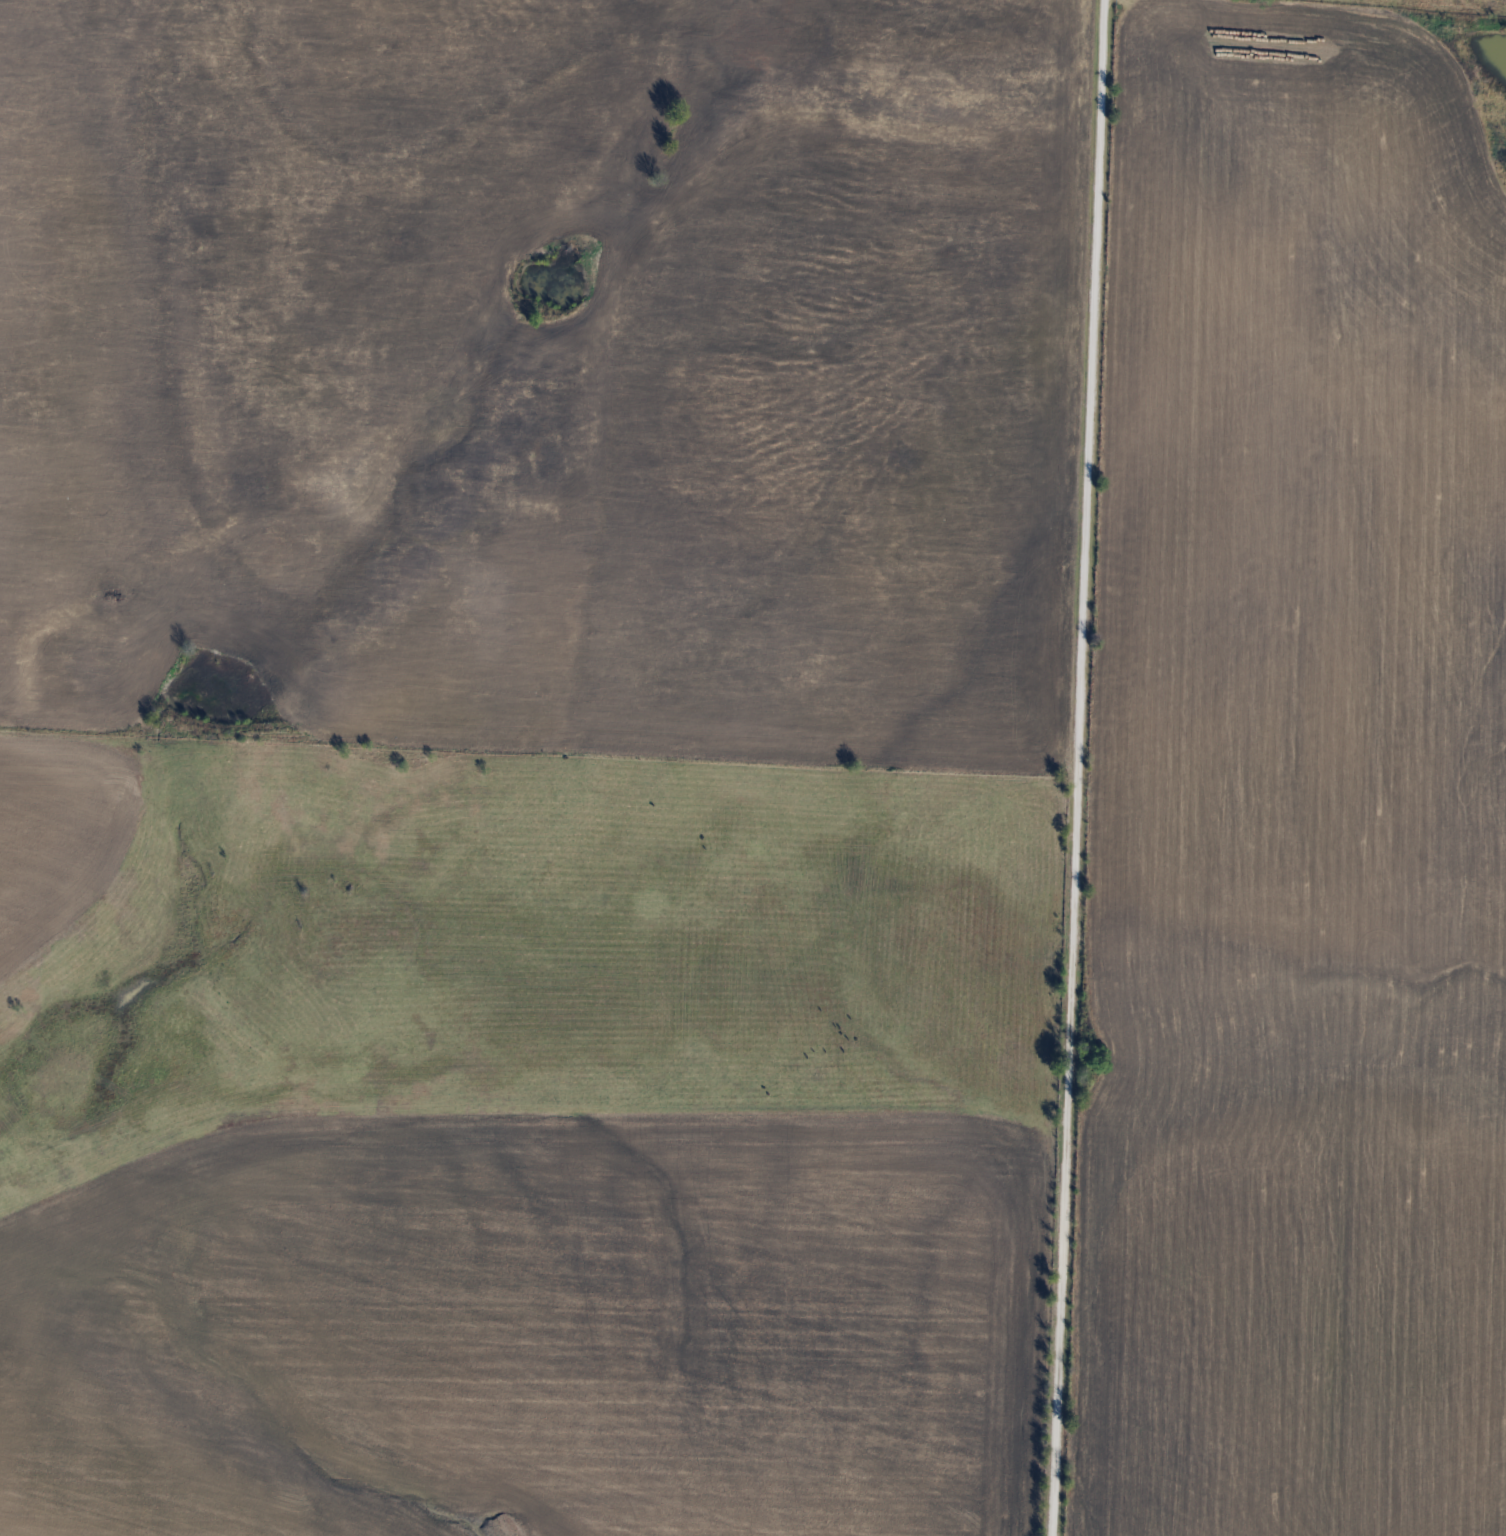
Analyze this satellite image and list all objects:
road: (1077, 768)

